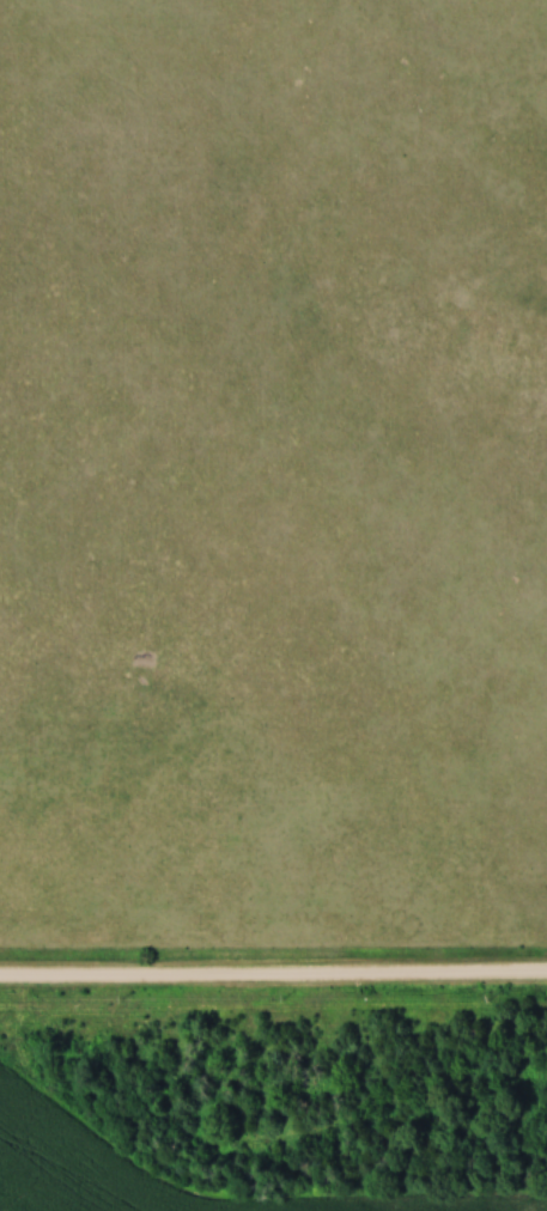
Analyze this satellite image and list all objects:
road: (273, 979)

